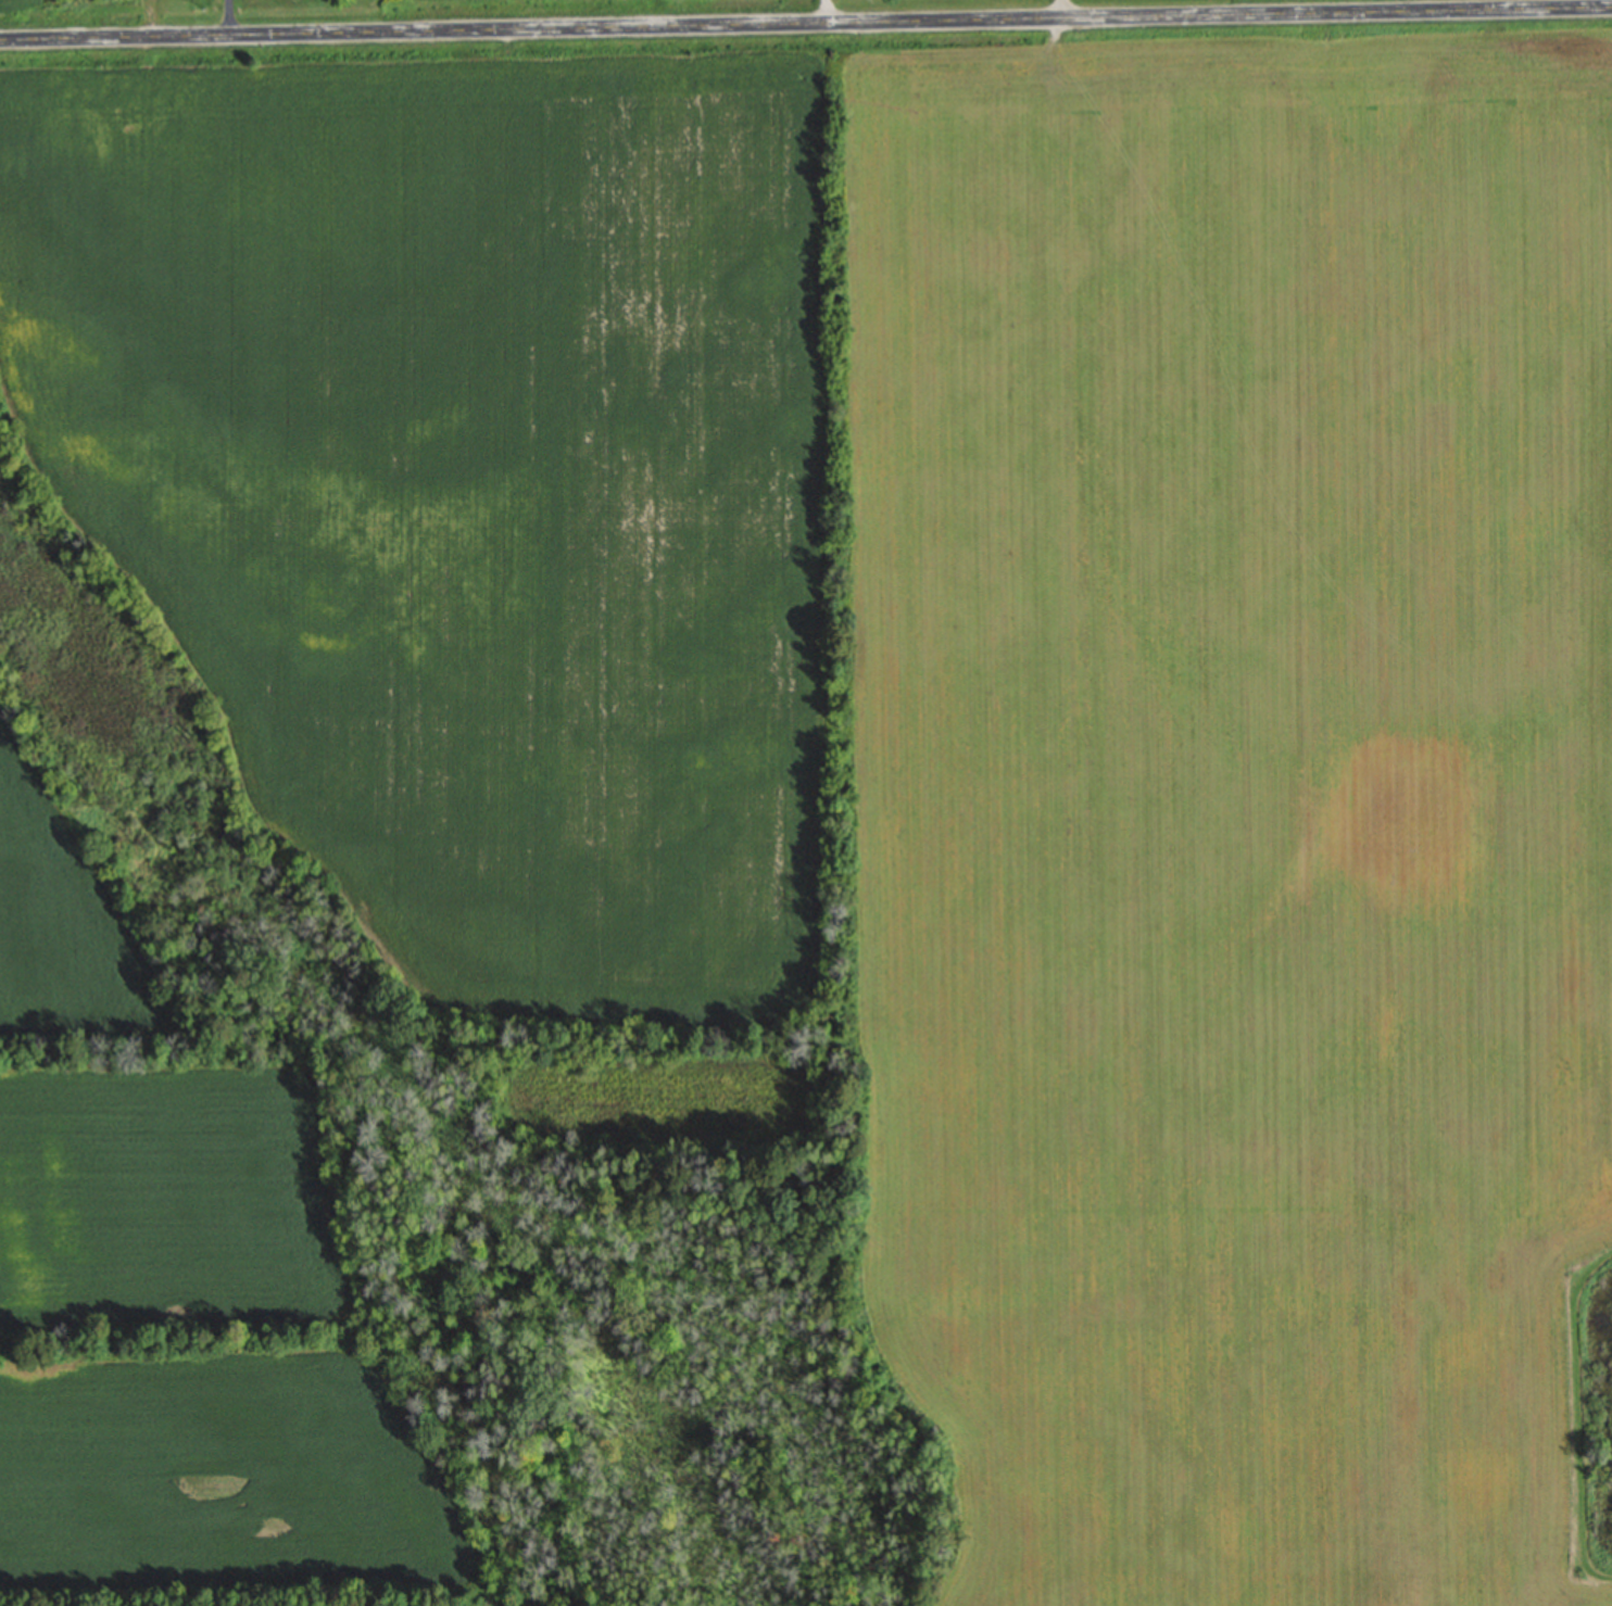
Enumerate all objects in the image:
road: (1058, 9)
road: (820, 12)
road: (806, 24)

